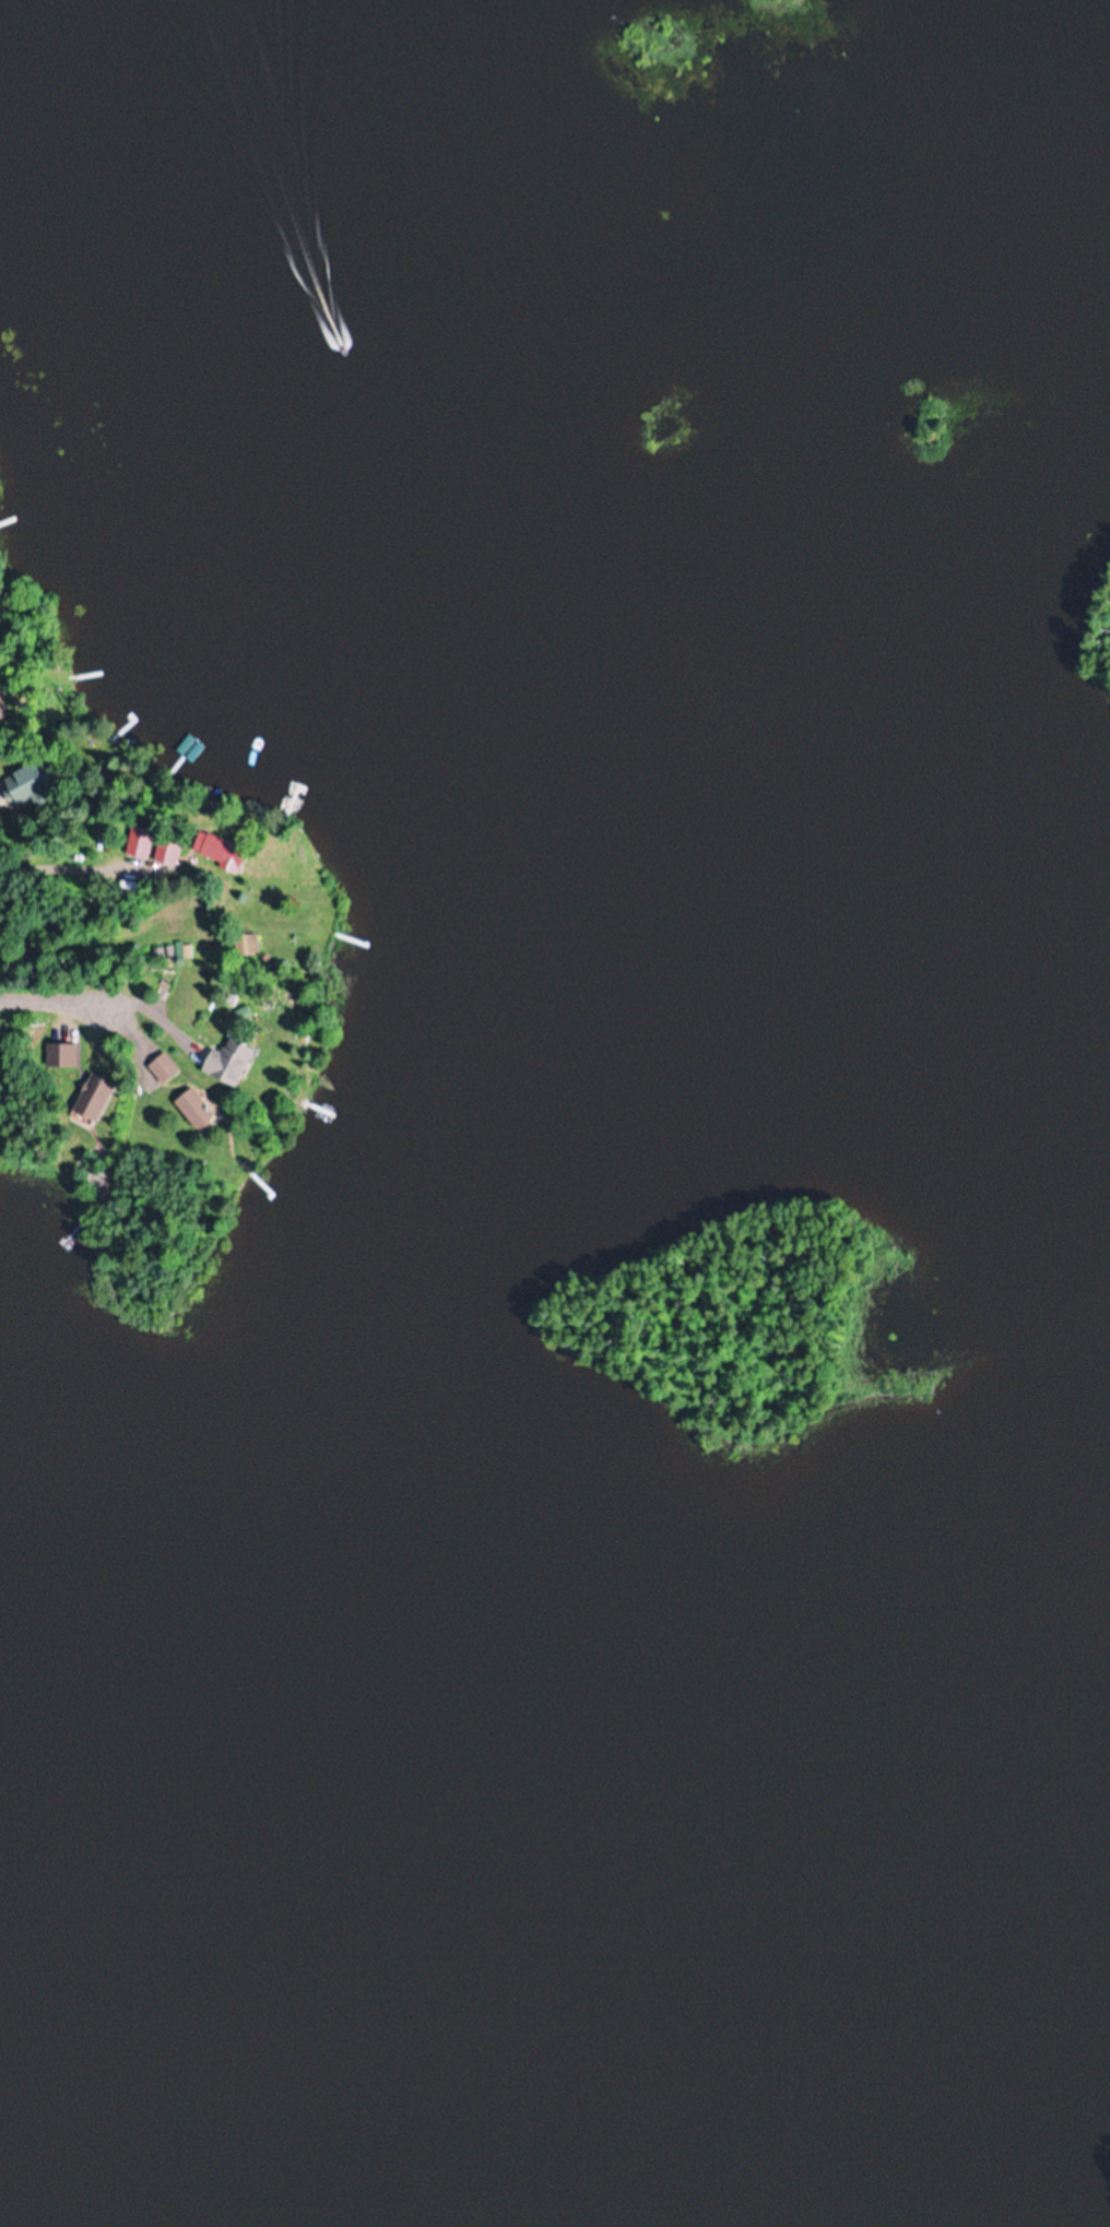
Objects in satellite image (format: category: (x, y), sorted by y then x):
building: (32, 785)
building: (139, 842)
road: (3, 846)
building: (167, 850)
building: (220, 850)
road: (87, 923)
road: (109, 1012)
building: (232, 1059)
building: (165, 1066)
building: (93, 1100)
building: (200, 1109)

